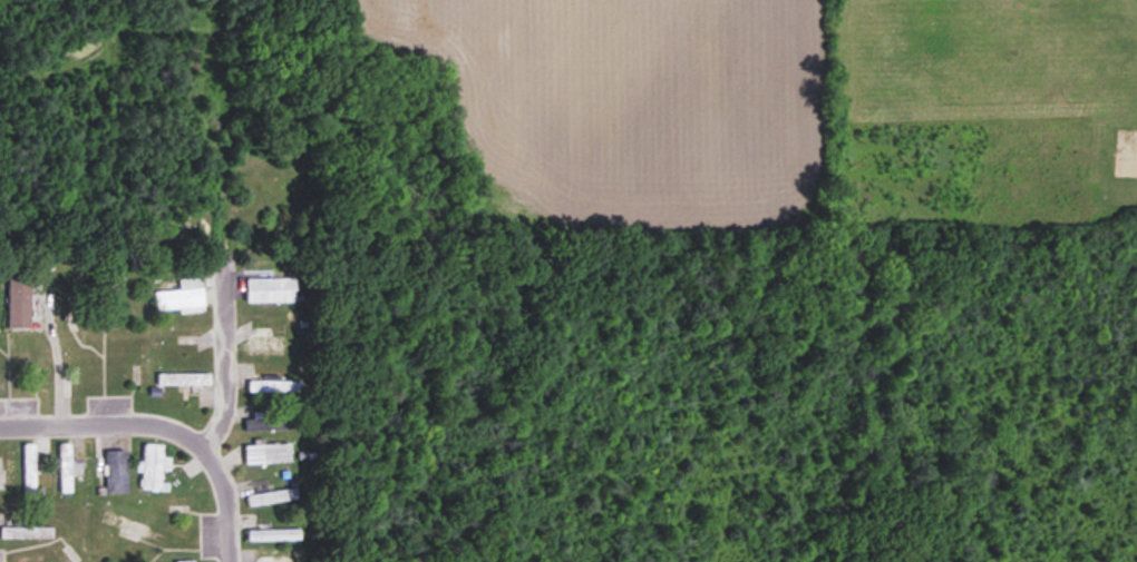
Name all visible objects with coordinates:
building: (270, 290)
building: (182, 298)
building: (109, 300)
building: (18, 303)
building: (268, 346)
road: (55, 366)
building: (183, 379)
building: (274, 387)
road: (222, 411)
building: (272, 424)
road: (105, 426)
building: (268, 455)
building: (154, 469)
building: (29, 471)
building: (116, 473)
building: (272, 499)
building: (124, 524)
building: (27, 534)
building: (273, 536)
building: (274, 561)

